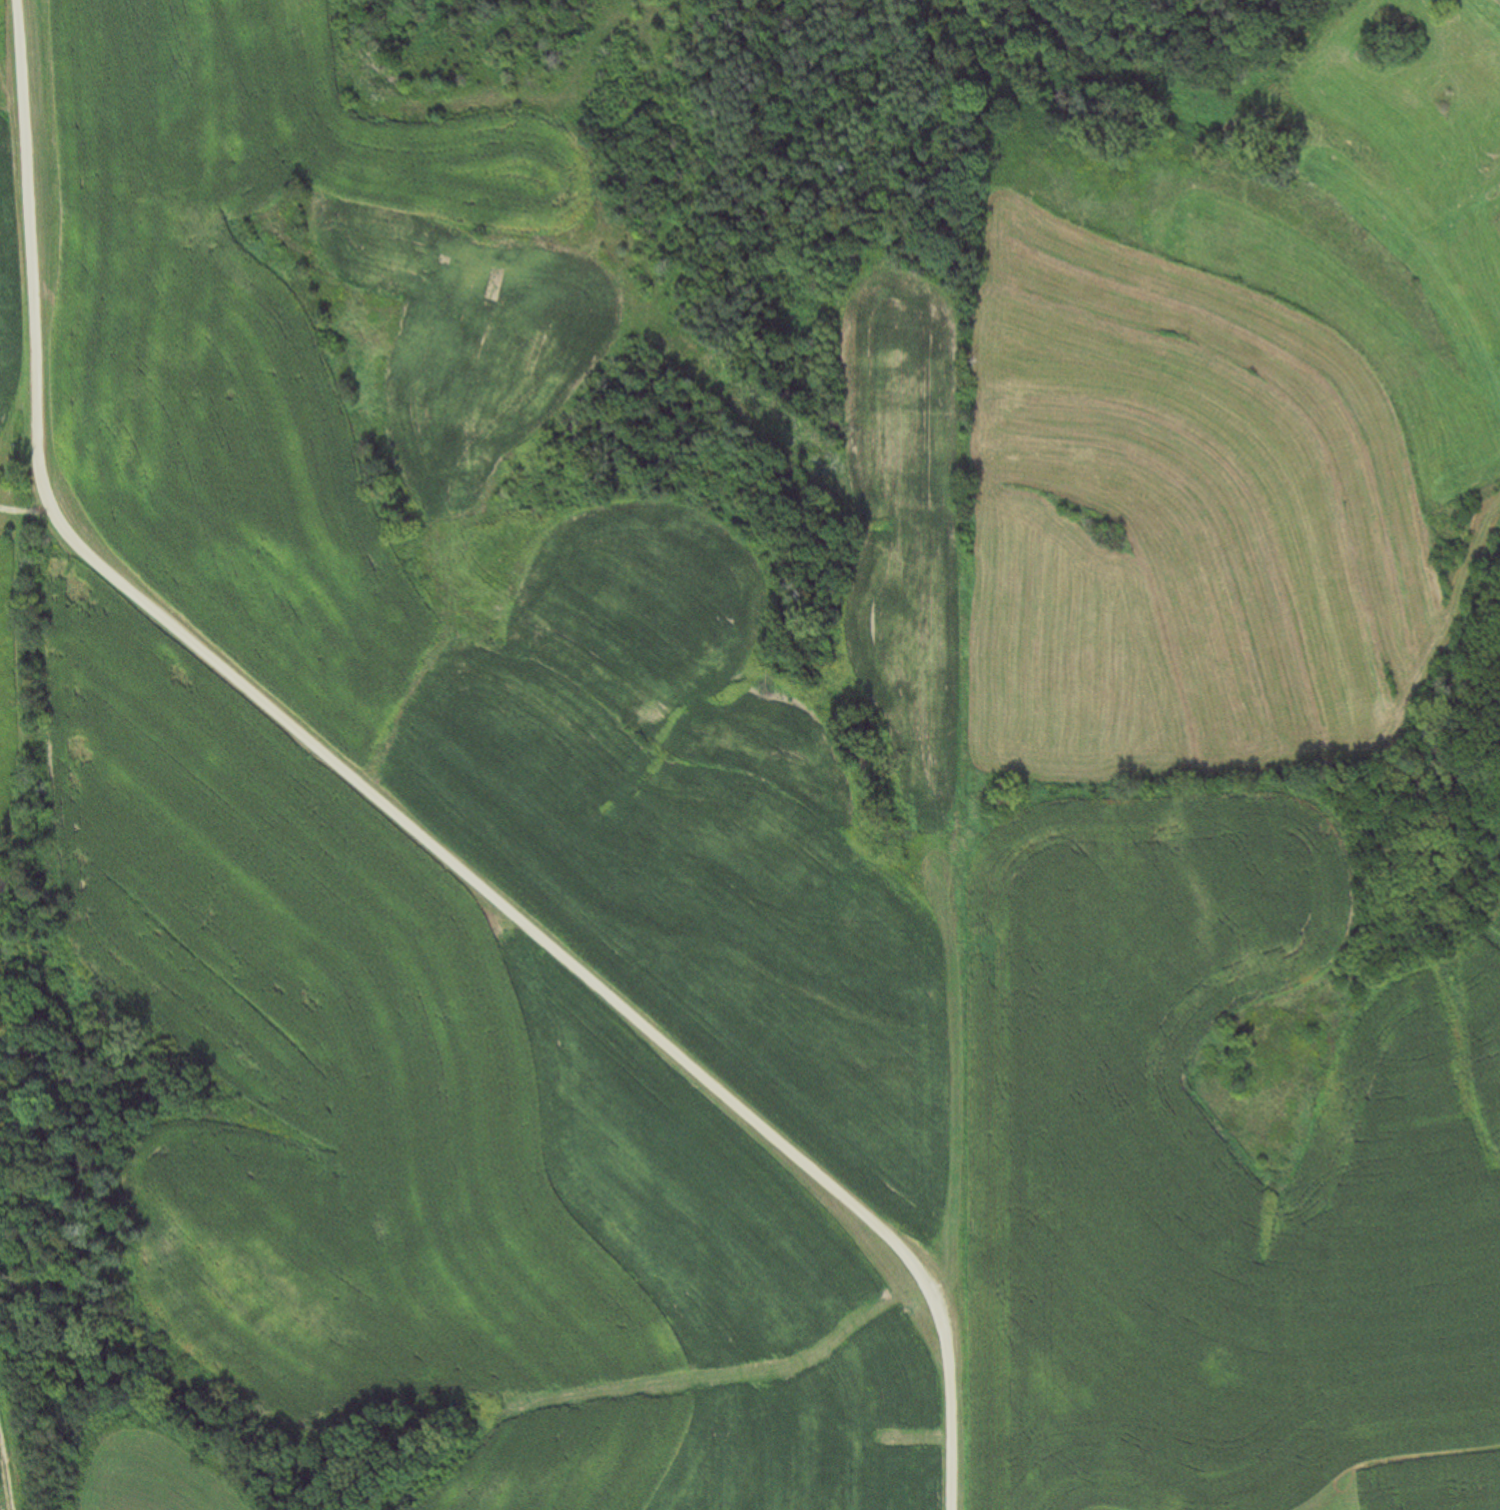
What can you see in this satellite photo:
road: (383, 804)

